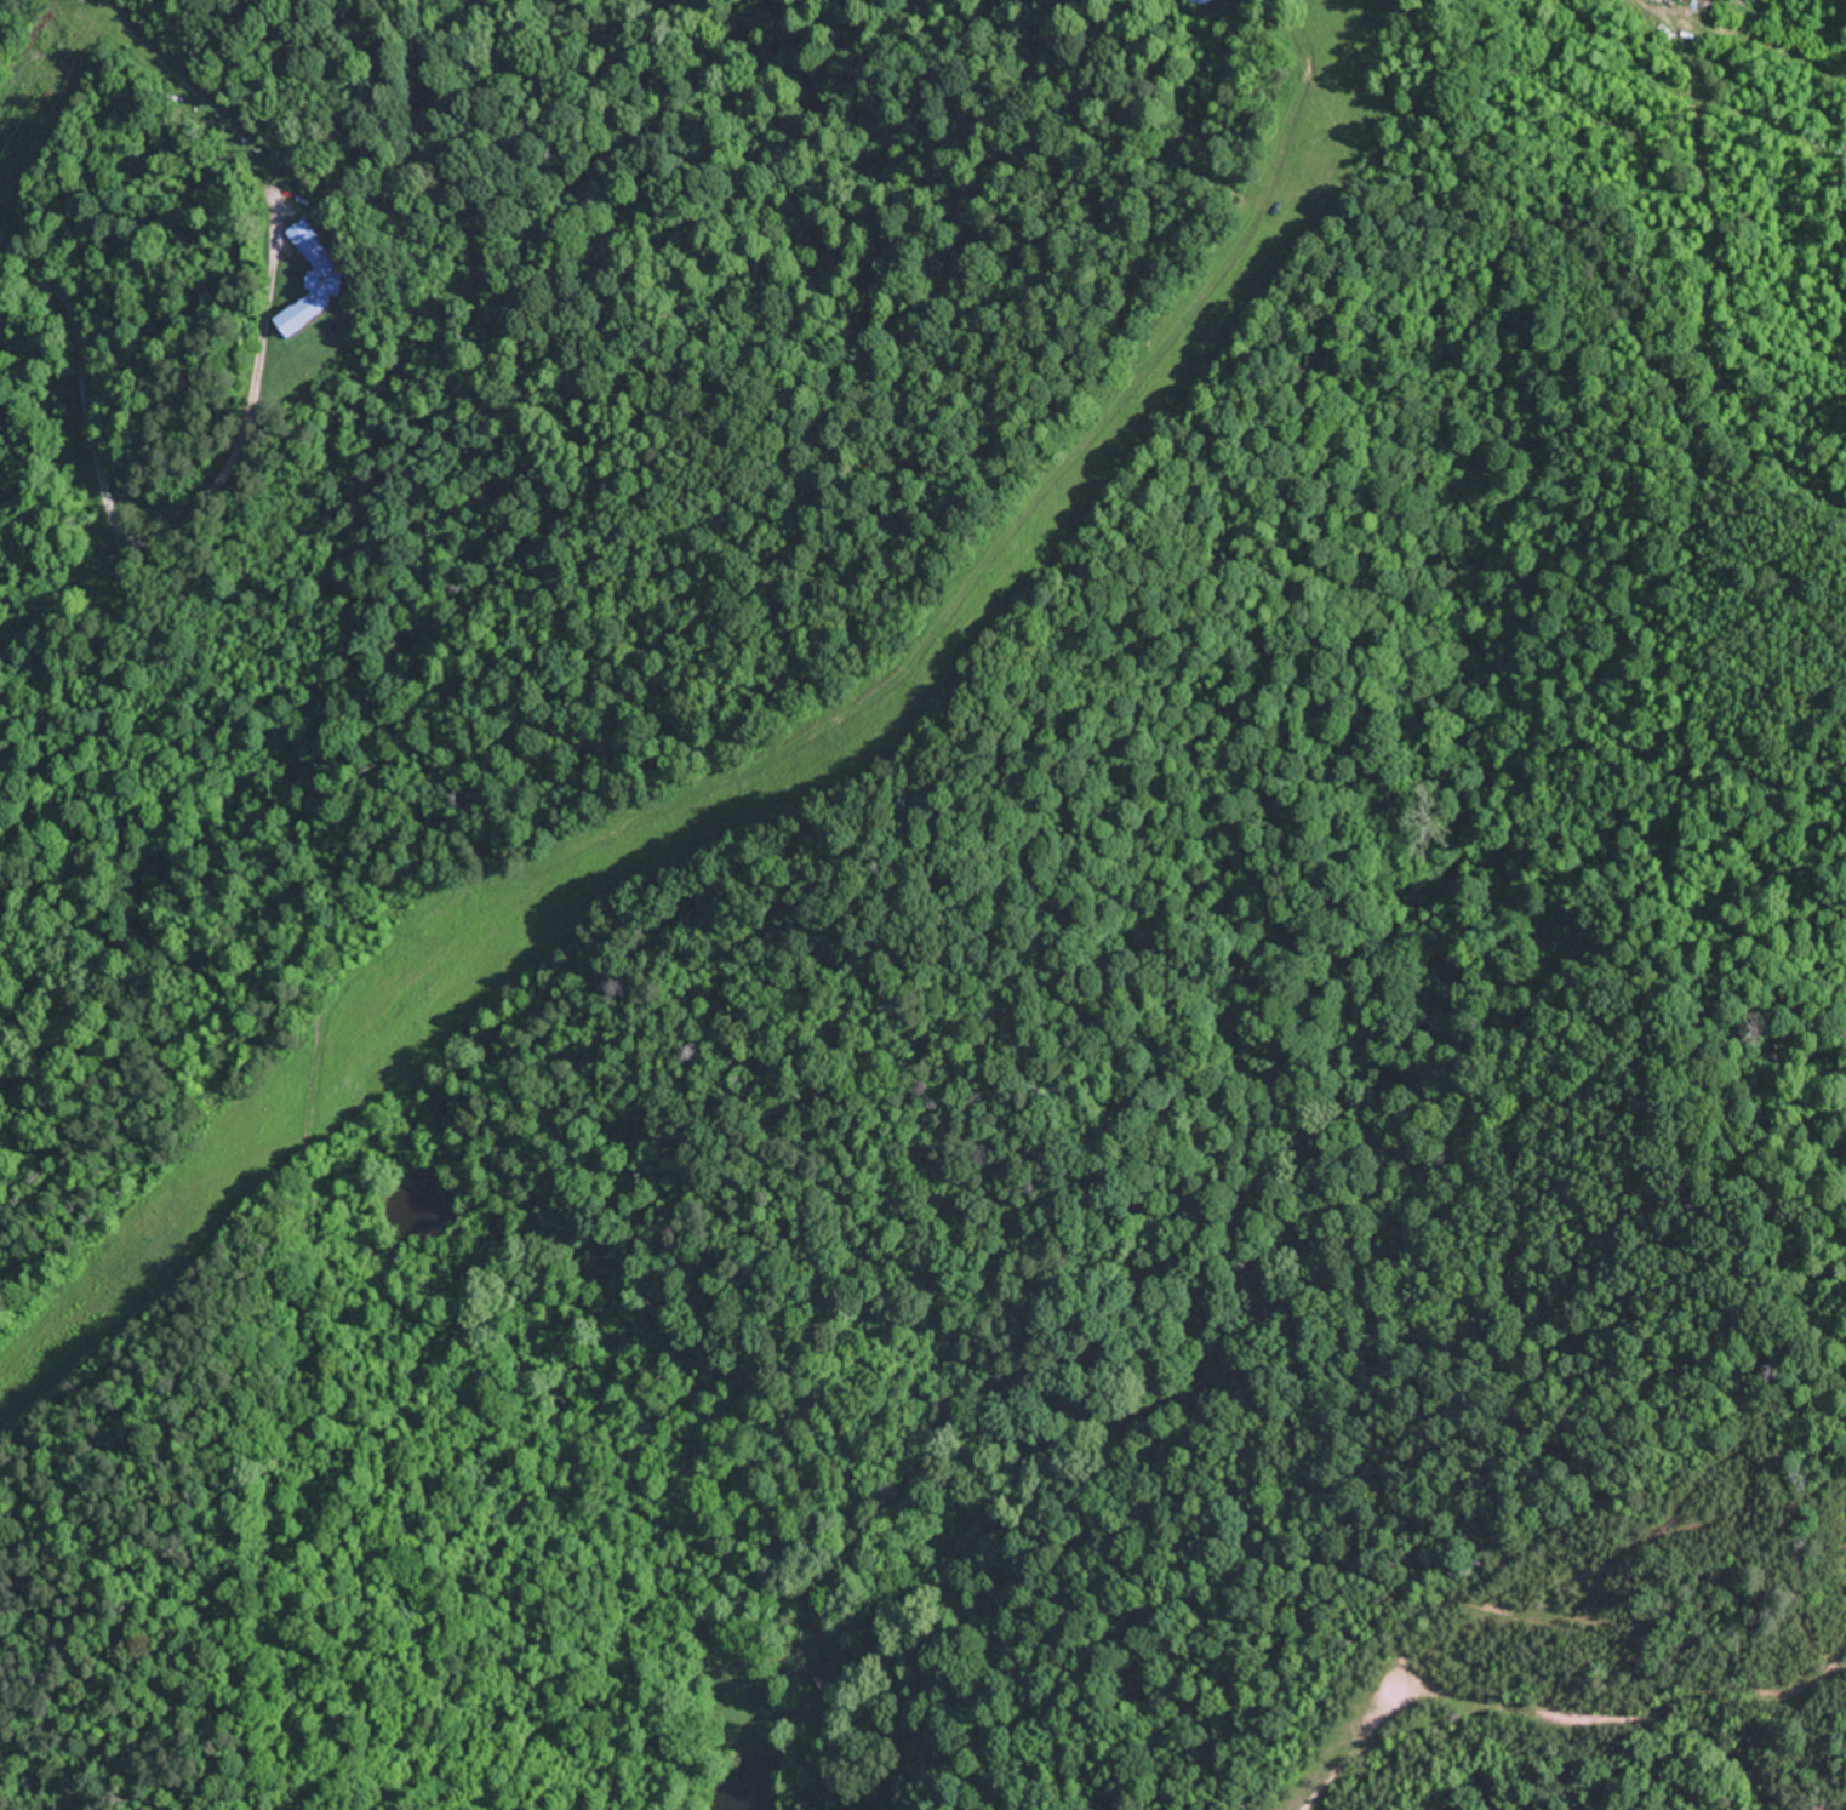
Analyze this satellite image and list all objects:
building: (1196, 1)
building: (315, 281)
road: (1395, 1651)
building: (821, 1675)

